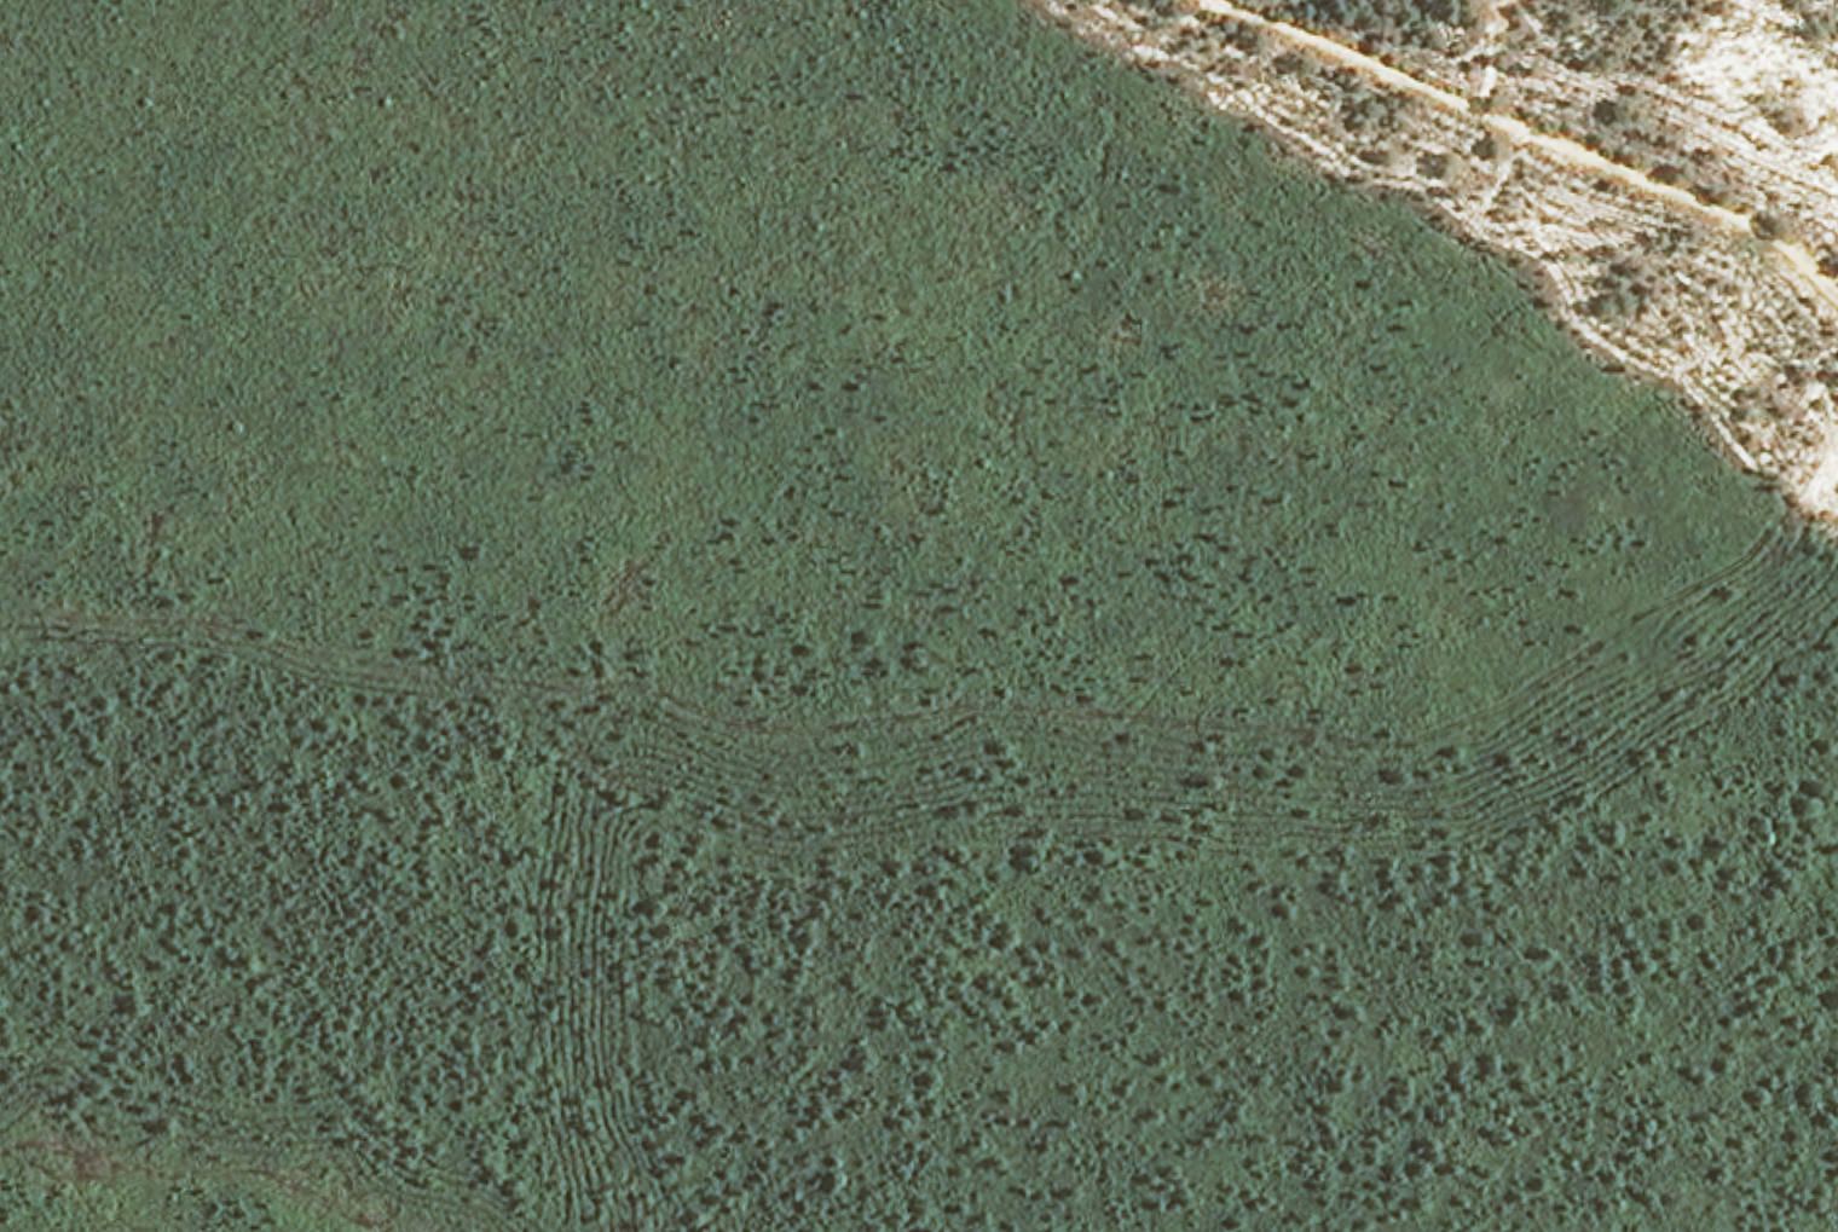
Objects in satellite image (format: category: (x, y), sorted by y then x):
road: (1559, 140)

